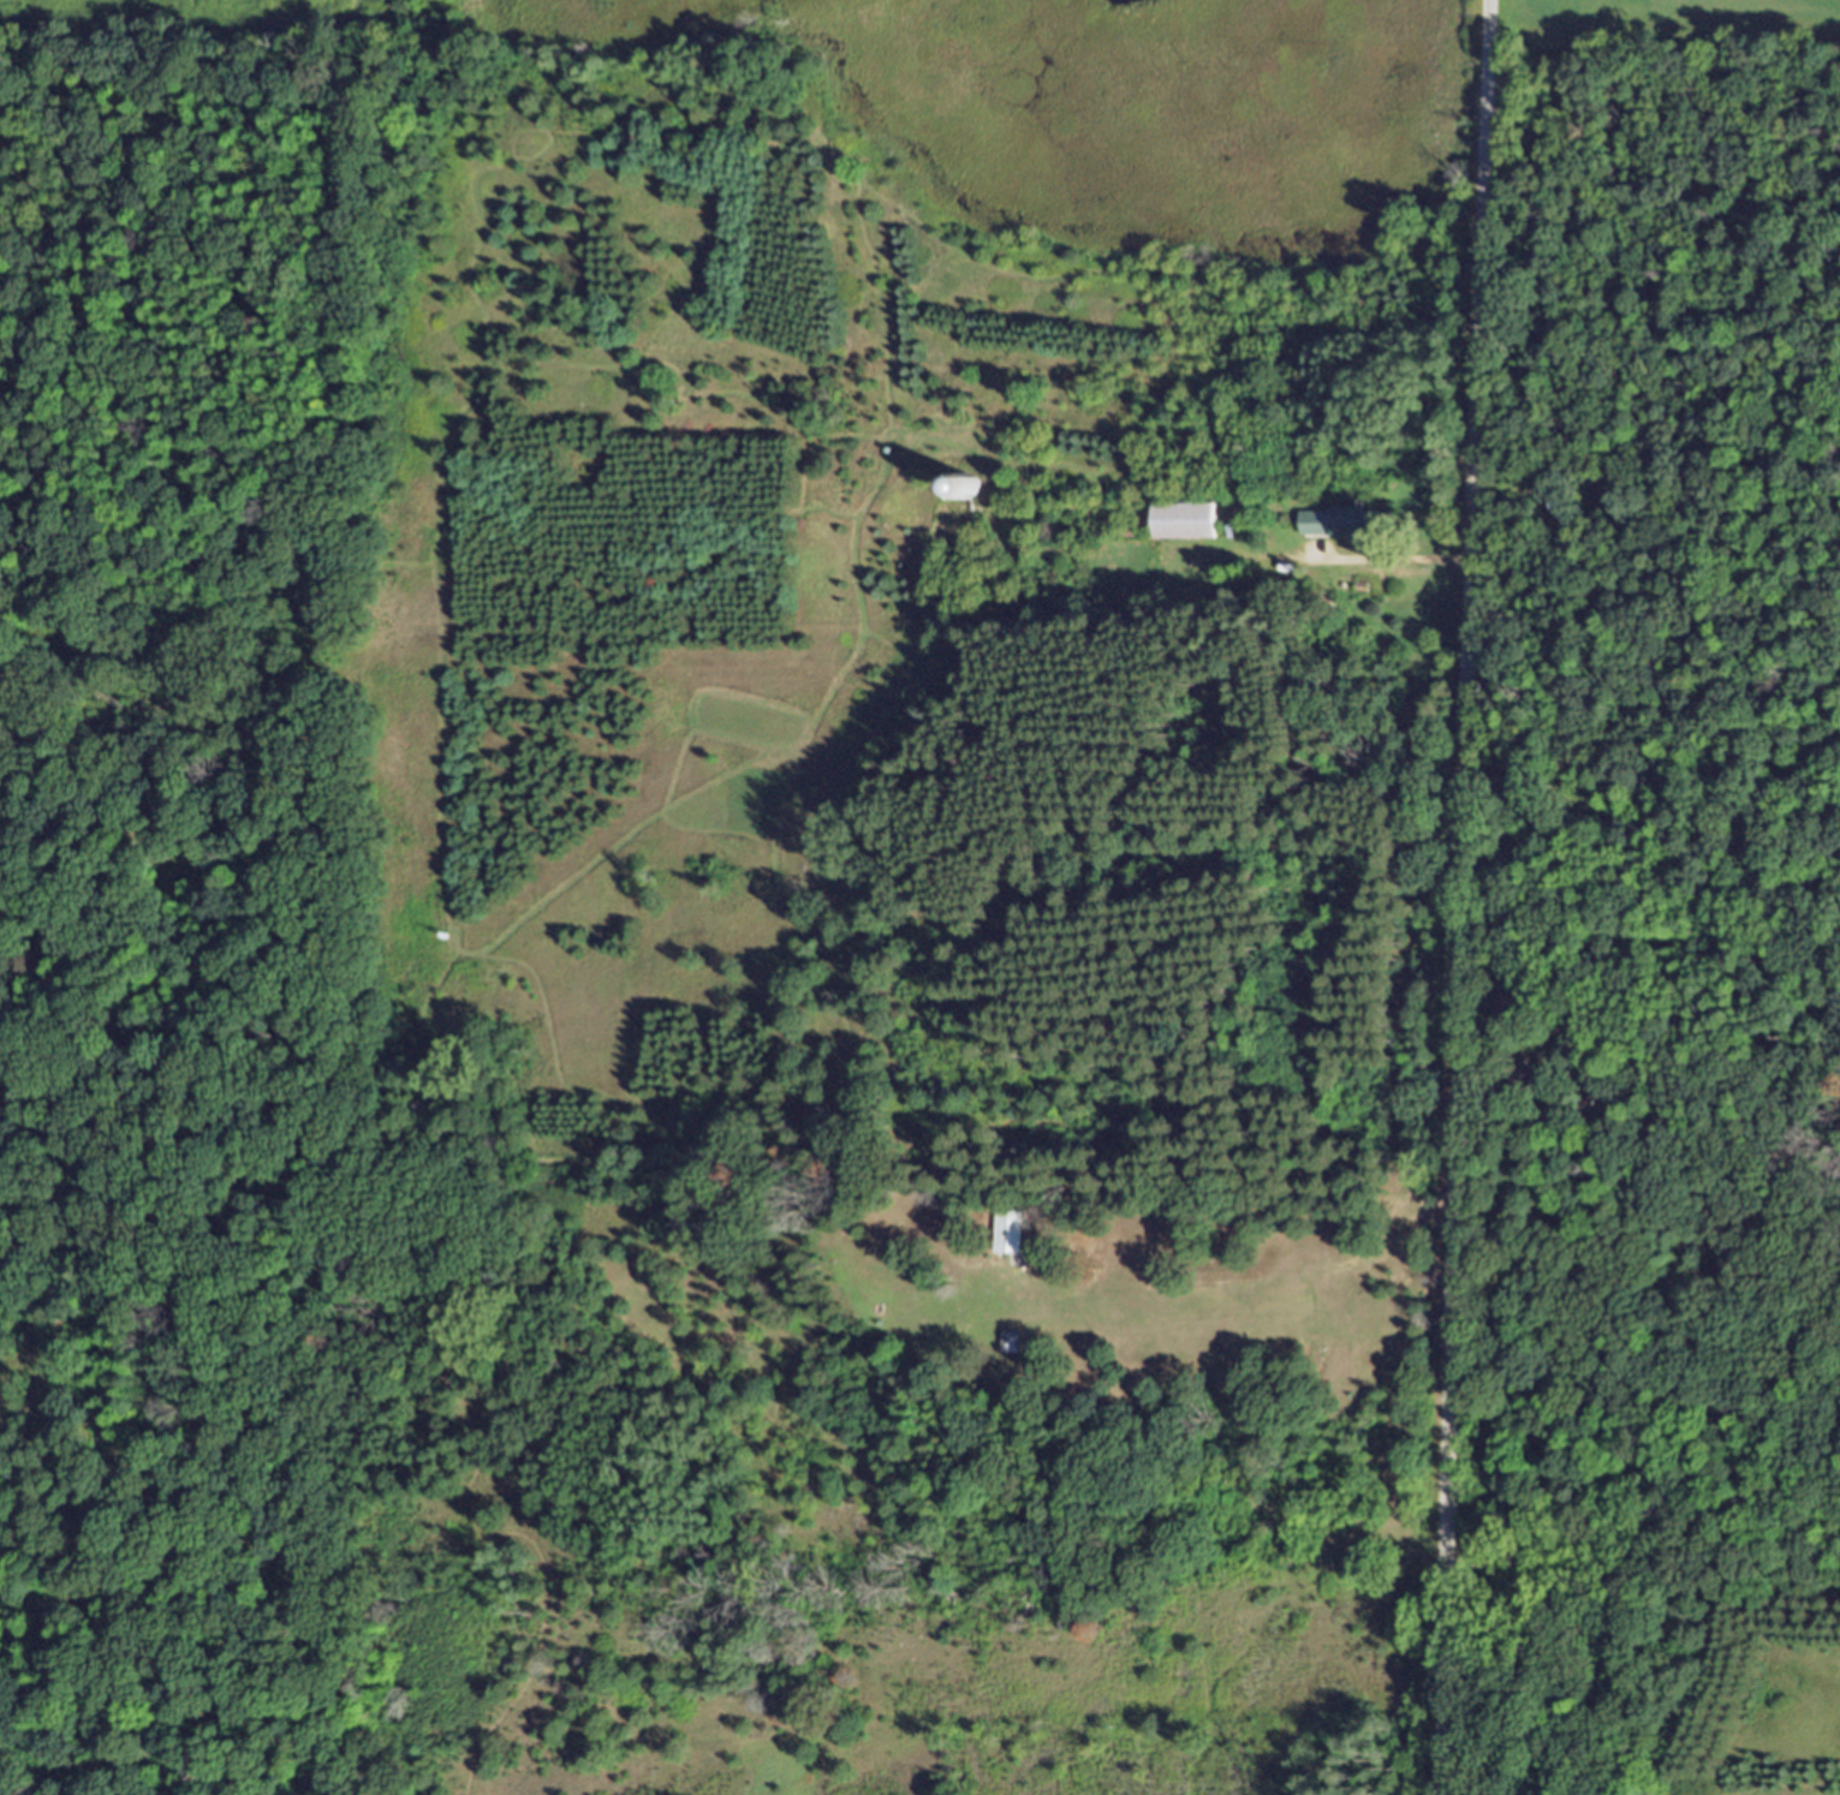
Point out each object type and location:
building: (1189, 529)
building: (1347, 531)
road: (1457, 896)
building: (1012, 1241)
building: (1013, 1349)

